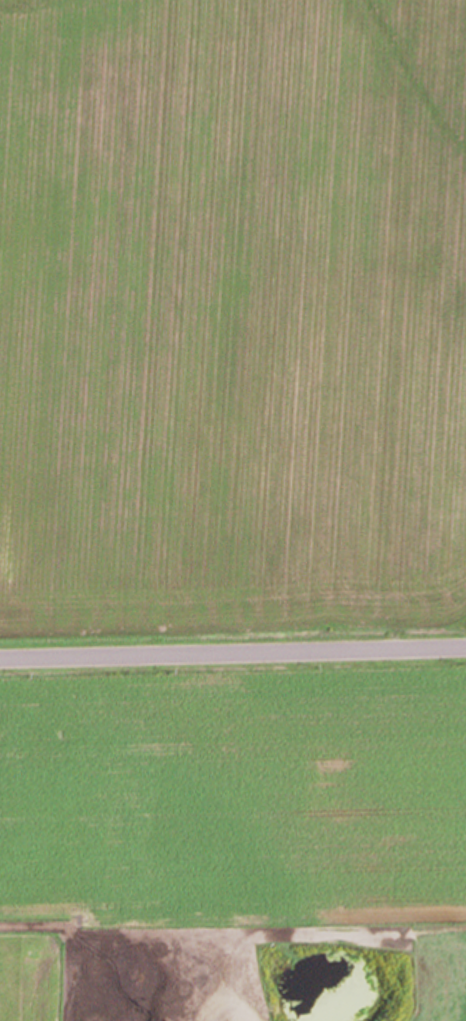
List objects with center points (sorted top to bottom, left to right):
road: (233, 653)

